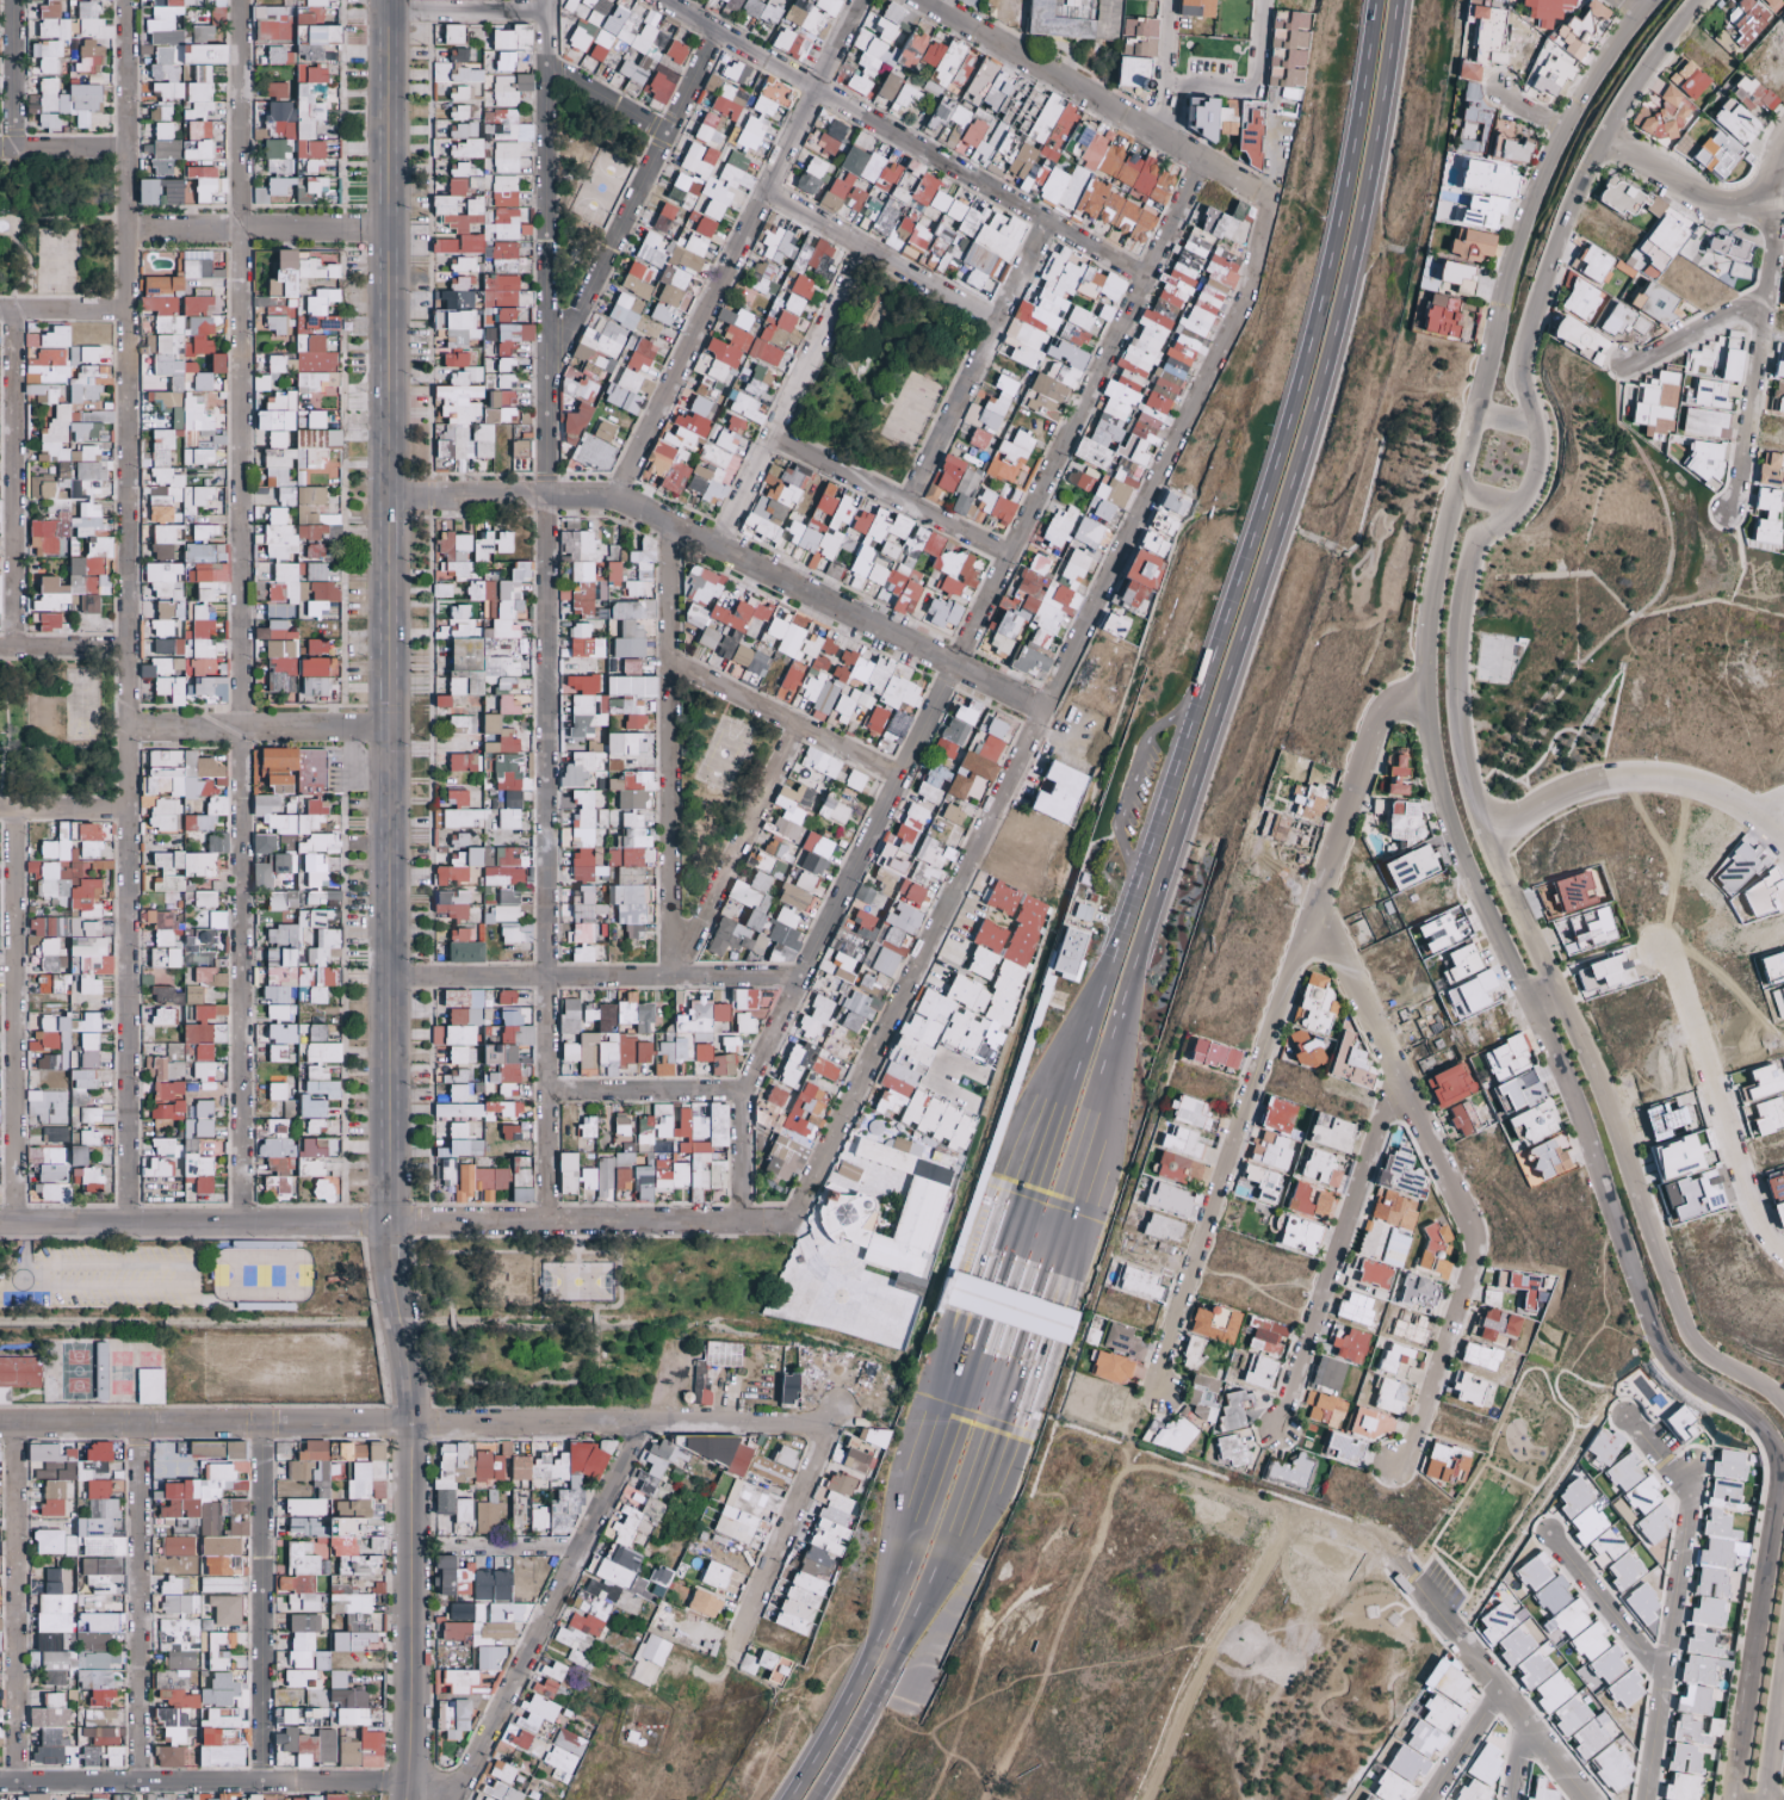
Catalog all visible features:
park: (582, 188)
park: (60, 237)
park: (881, 372)
park: (58, 729)
park: (711, 784)
parking lot: (1145, 784)
park: (589, 1316)

